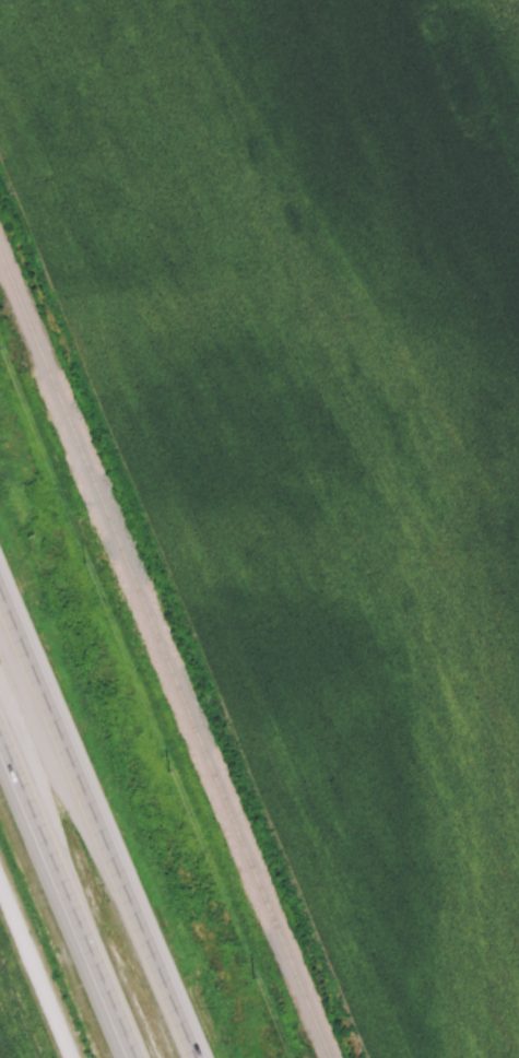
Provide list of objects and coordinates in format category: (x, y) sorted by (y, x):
railway: (165, 653)
road: (97, 824)
road: (66, 900)
road: (38, 965)

